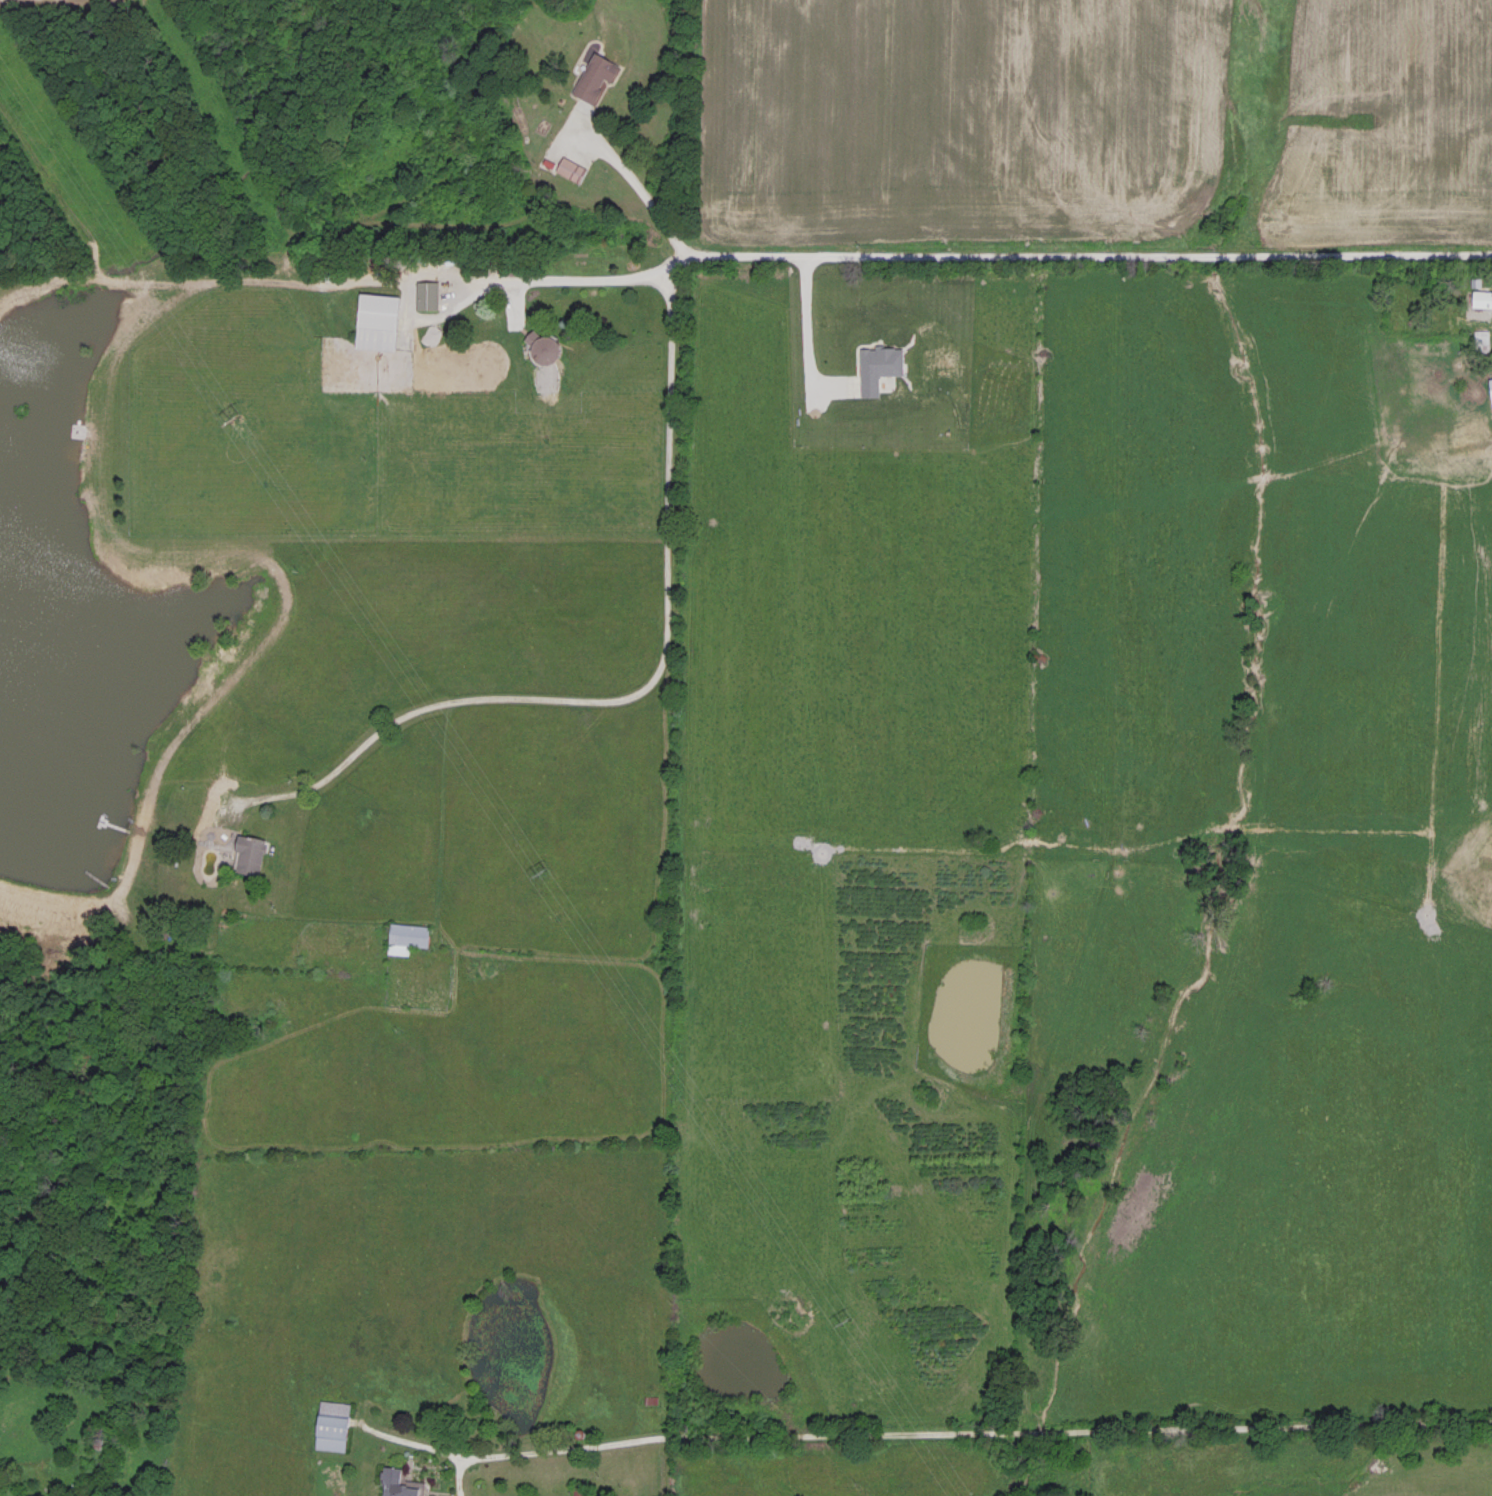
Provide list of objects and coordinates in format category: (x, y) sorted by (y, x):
building: (596, 75)
building: (571, 168)
road: (634, 183)
road: (1076, 256)
road: (369, 282)
building: (428, 293)
building: (1482, 297)
building: (378, 319)
road: (806, 329)
building: (547, 346)
building: (1490, 388)
road: (665, 581)
road: (339, 765)
road: (439, 810)
building: (250, 853)
building: (408, 935)
building: (334, 1424)
road: (953, 1434)
building: (399, 1482)
building: (580, 1488)

